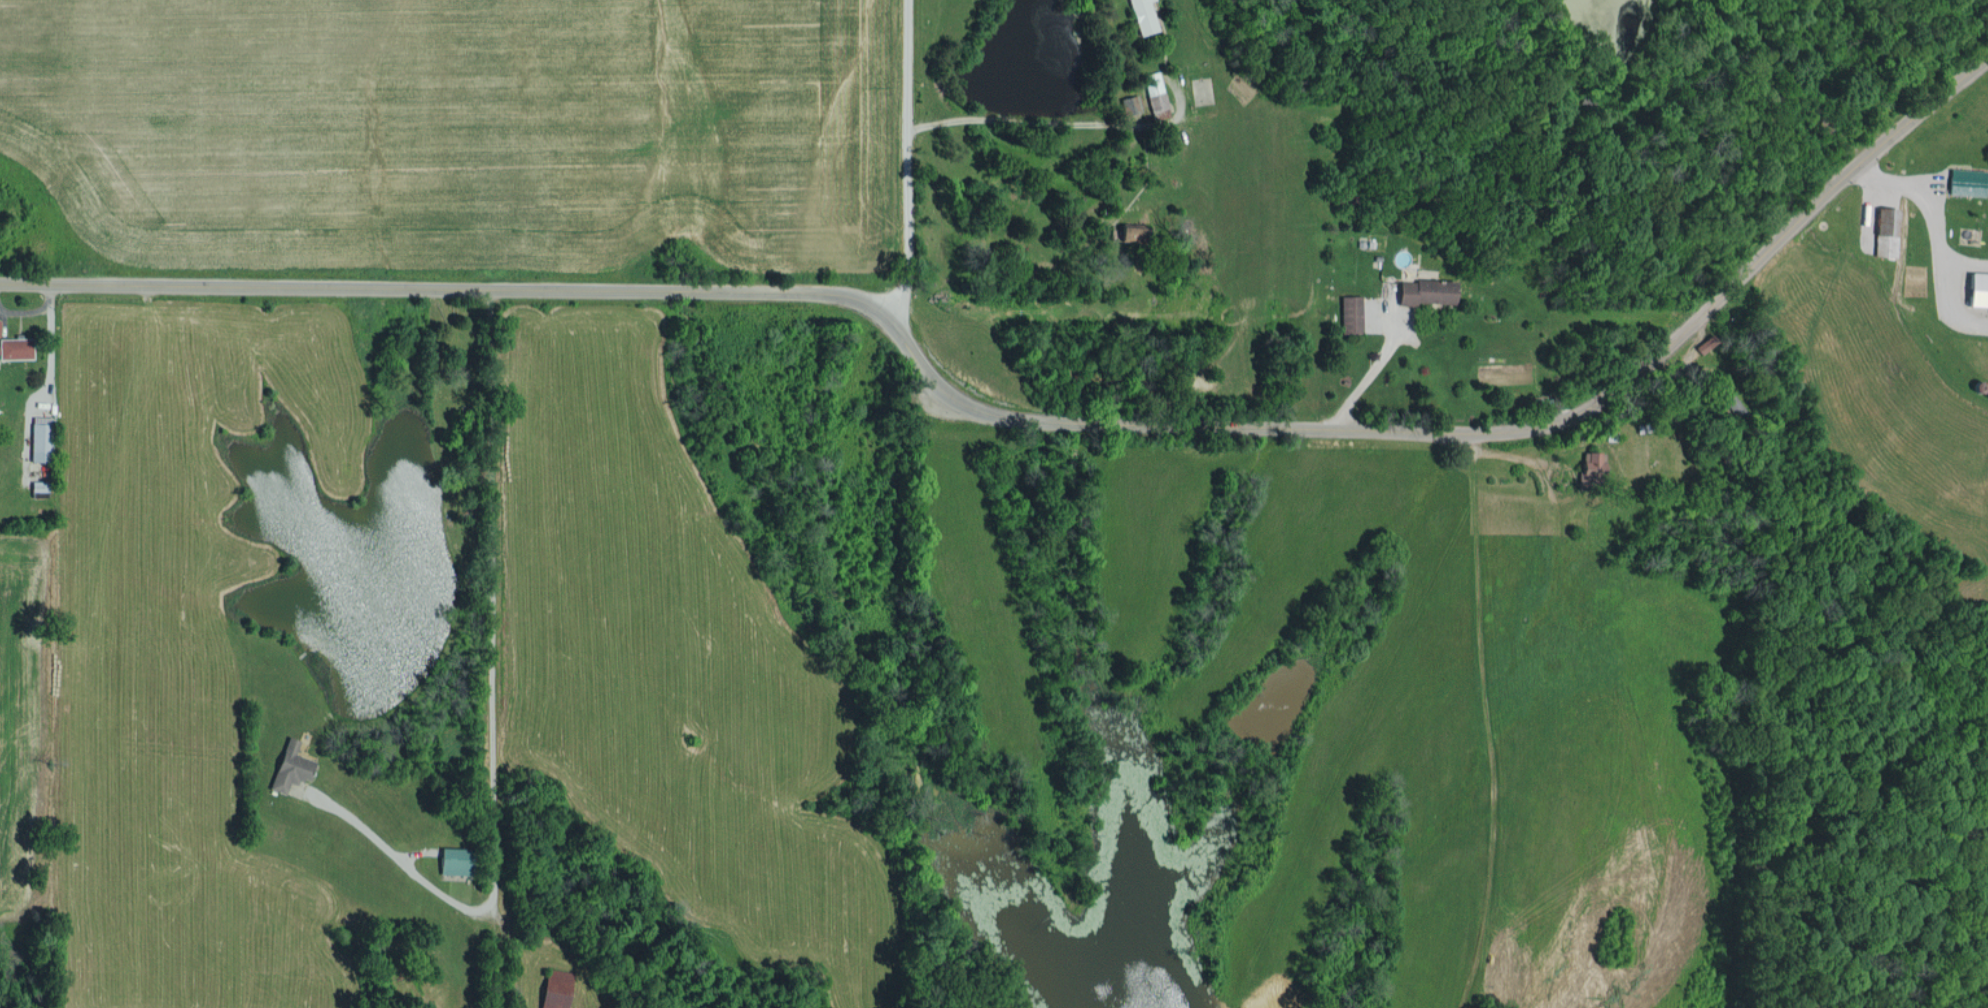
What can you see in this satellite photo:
building: (1143, 16)
building: (1154, 90)
road: (910, 158)
building: (1967, 181)
building: (1886, 231)
building: (1128, 233)
building: (1978, 289)
road: (443, 291)
building: (1426, 291)
building: (1350, 314)
building: (15, 348)
road: (1480, 430)
building: (40, 441)
building: (1592, 462)
building: (290, 766)
building: (452, 860)
building: (555, 988)

